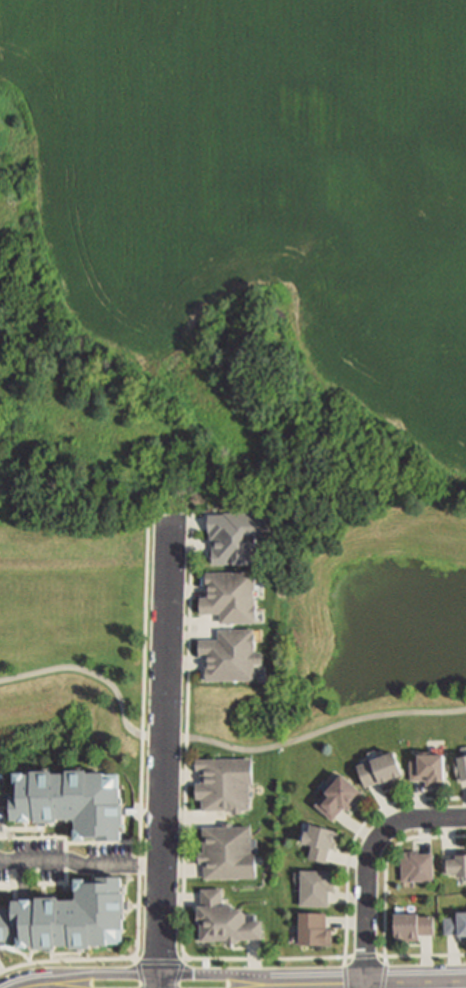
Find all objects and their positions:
crop: (232, 251)
building: (239, 537)
building: (232, 596)
park: (374, 622)
building: (231, 655)
road: (216, 742)
road: (165, 745)
building: (462, 763)
building: (428, 766)
building: (380, 767)
building: (226, 785)
building: (338, 794)
building: (69, 801)
road: (143, 805)
road: (187, 819)
building: (319, 839)
road: (355, 840)
building: (230, 852)
building: (456, 862)
road: (81, 864)
road: (369, 864)
building: (415, 865)
road: (386, 868)
building: (314, 885)
building: (69, 915)
building: (225, 920)
building: (456, 922)
building: (411, 923)
building: (313, 927)
road: (366, 956)
road: (422, 957)
road: (136, 959)
road: (186, 960)
road: (174, 962)
road: (103, 974)
road: (138, 975)
road: (242, 975)
road: (345, 976)
road: (384, 976)
road: (161, 981)
road: (36, 985)
road: (394, 985)
road: (47, 986)
road: (54, 986)
road: (313, 986)
road: (365, 986)

